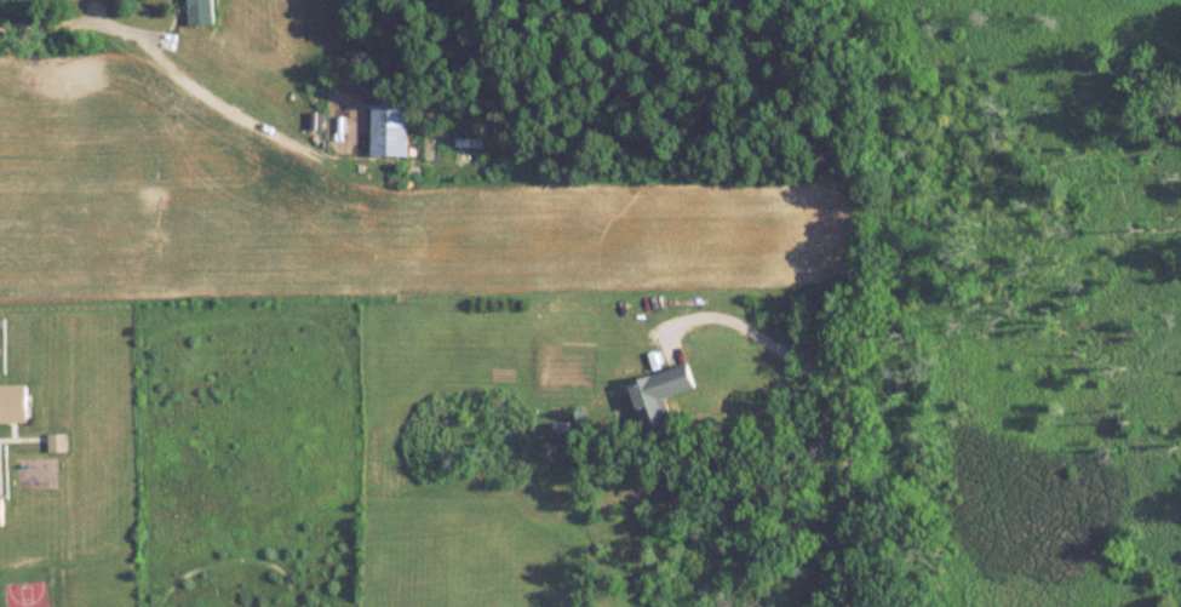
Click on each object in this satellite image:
building: (202, 11)
road: (171, 63)
building: (391, 128)
building: (663, 395)
road: (836, 402)
building: (13, 403)
building: (1, 511)

